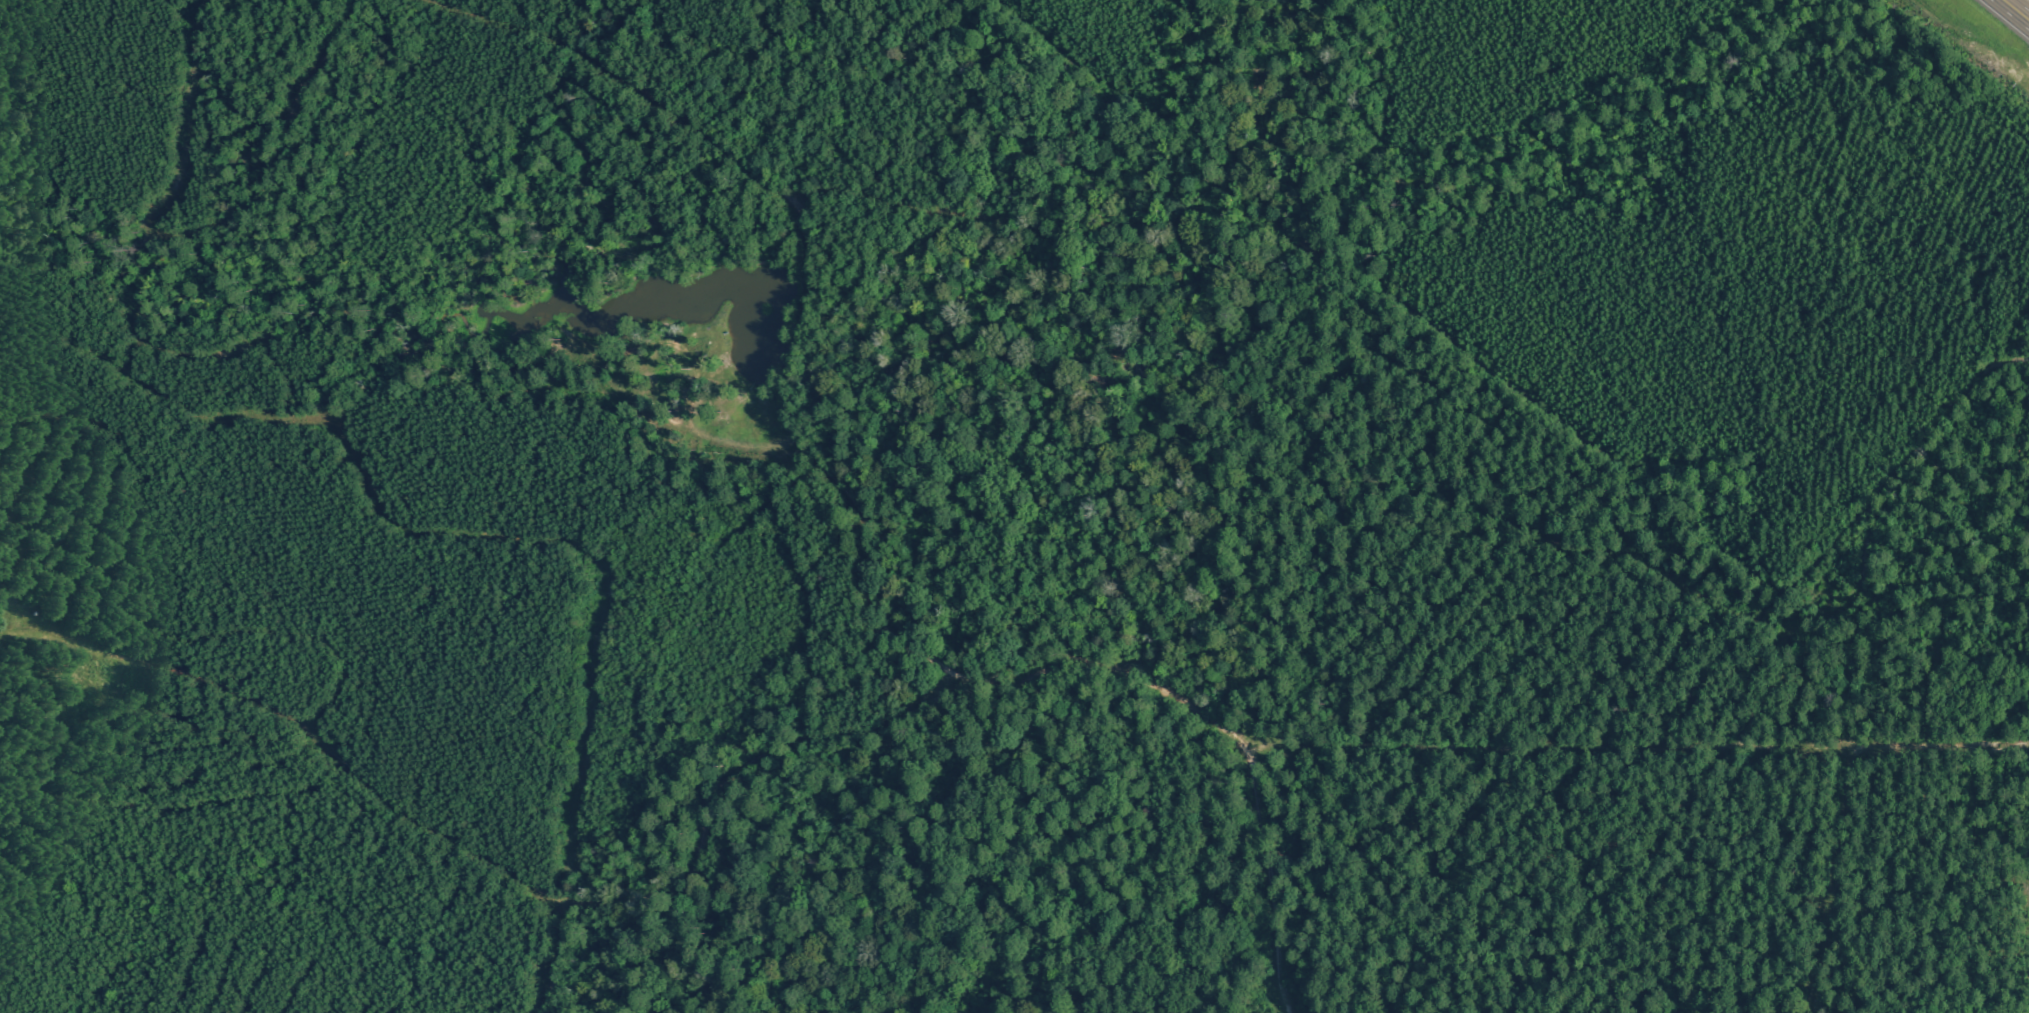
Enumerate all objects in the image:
road: (2015, 10)

